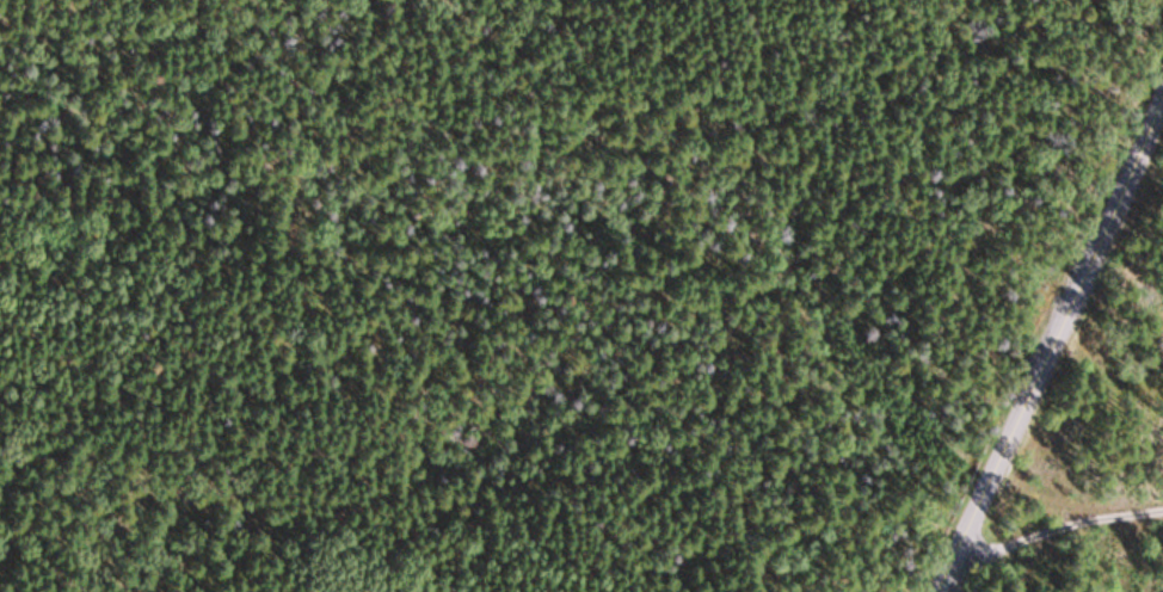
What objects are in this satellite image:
road: (1051, 339)
road: (1056, 529)

